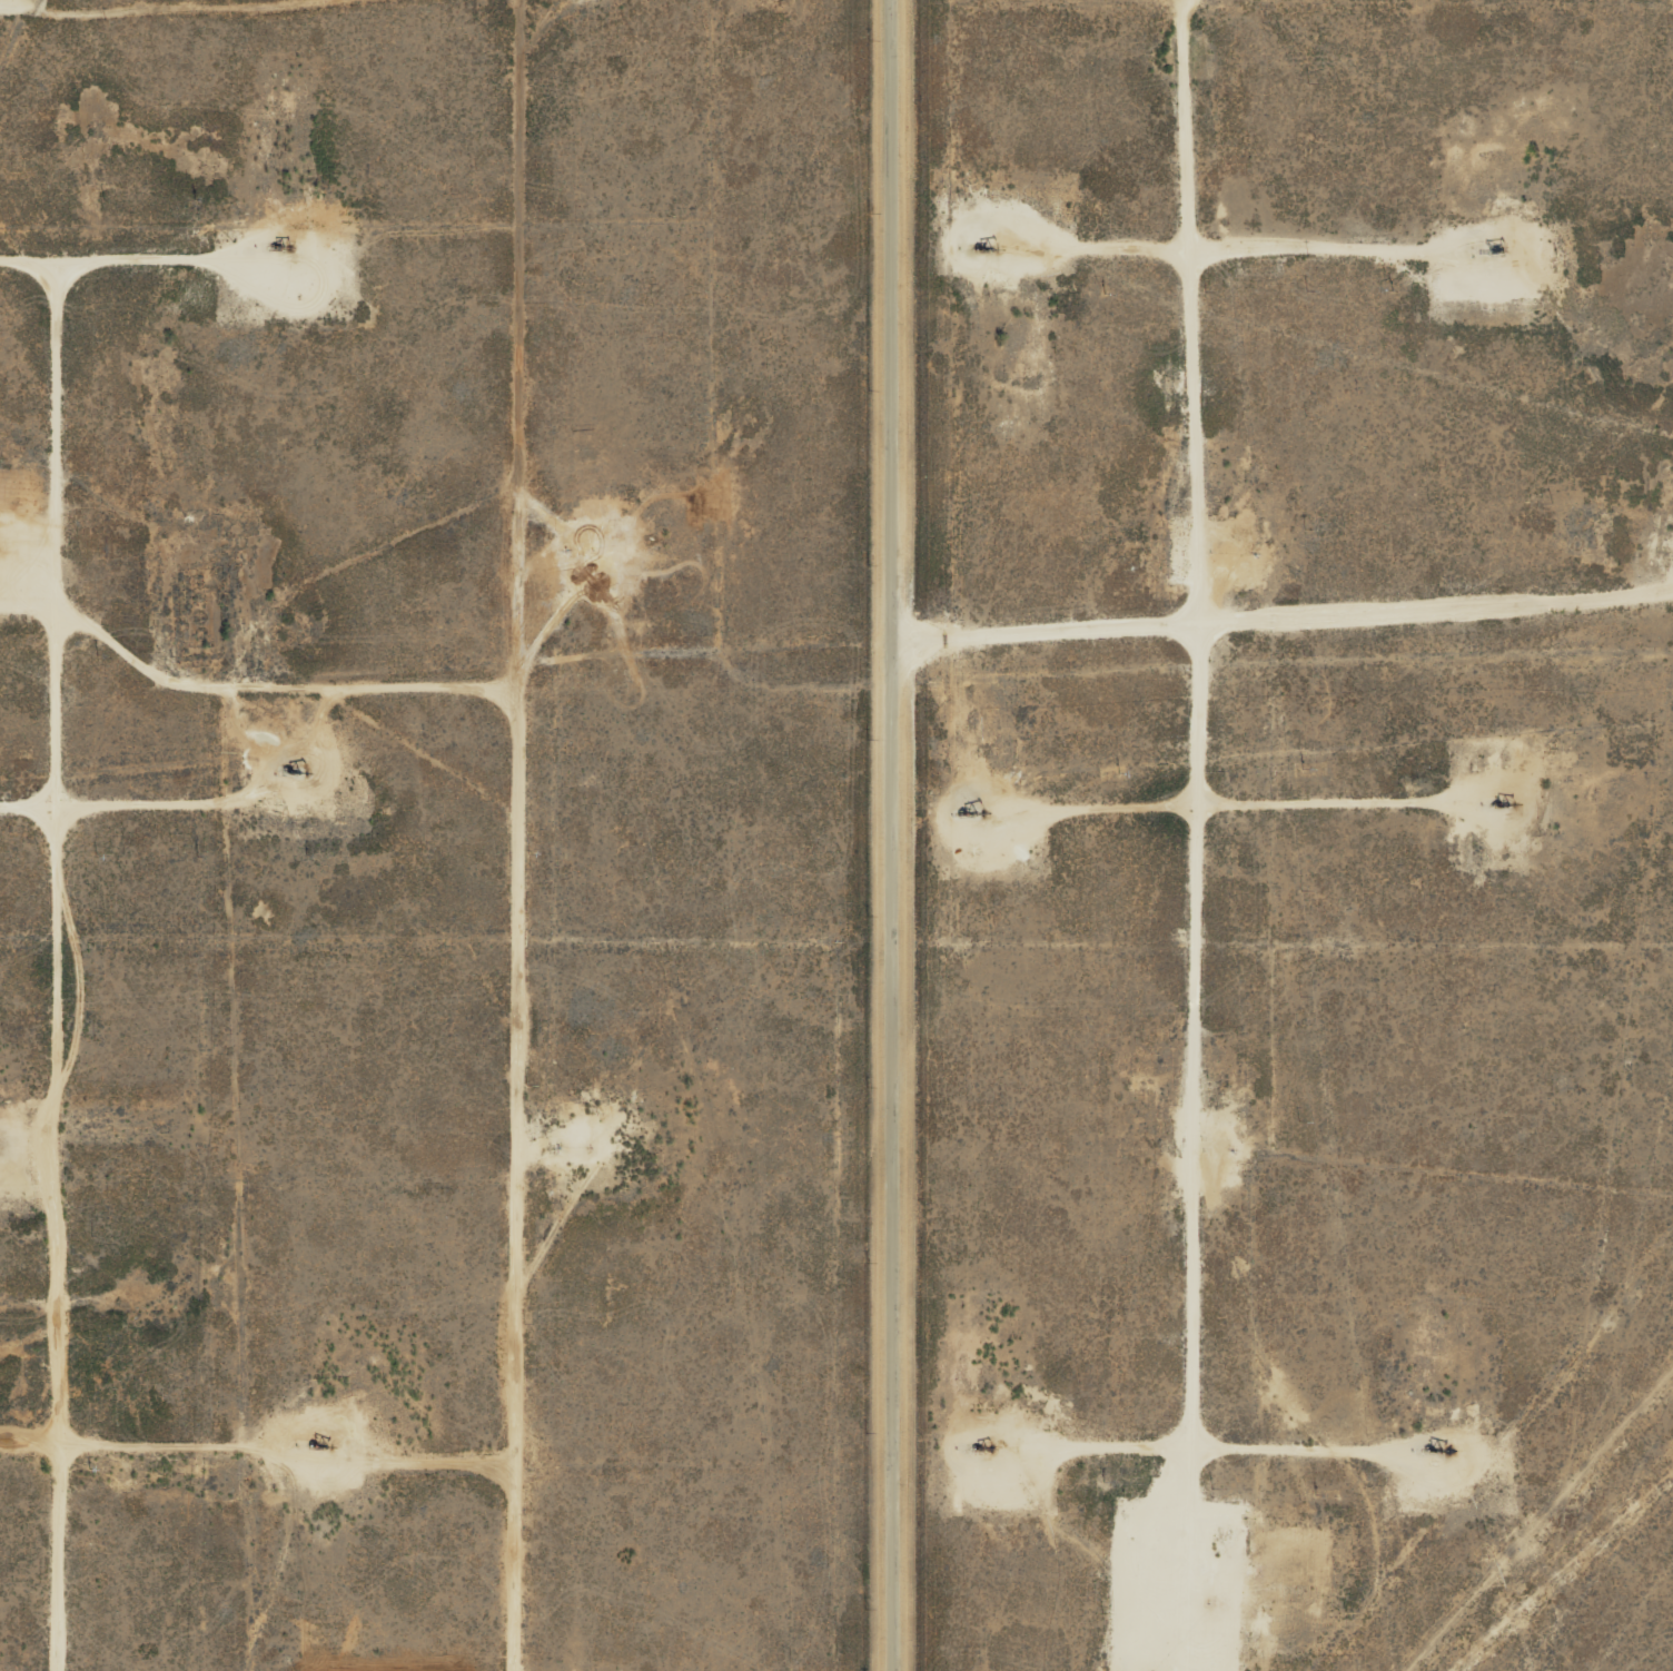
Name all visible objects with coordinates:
road: (550, 61)
road: (1285, 607)
road: (255, 655)
road: (1185, 831)
road: (897, 835)
road: (515, 866)
road: (69, 1150)

